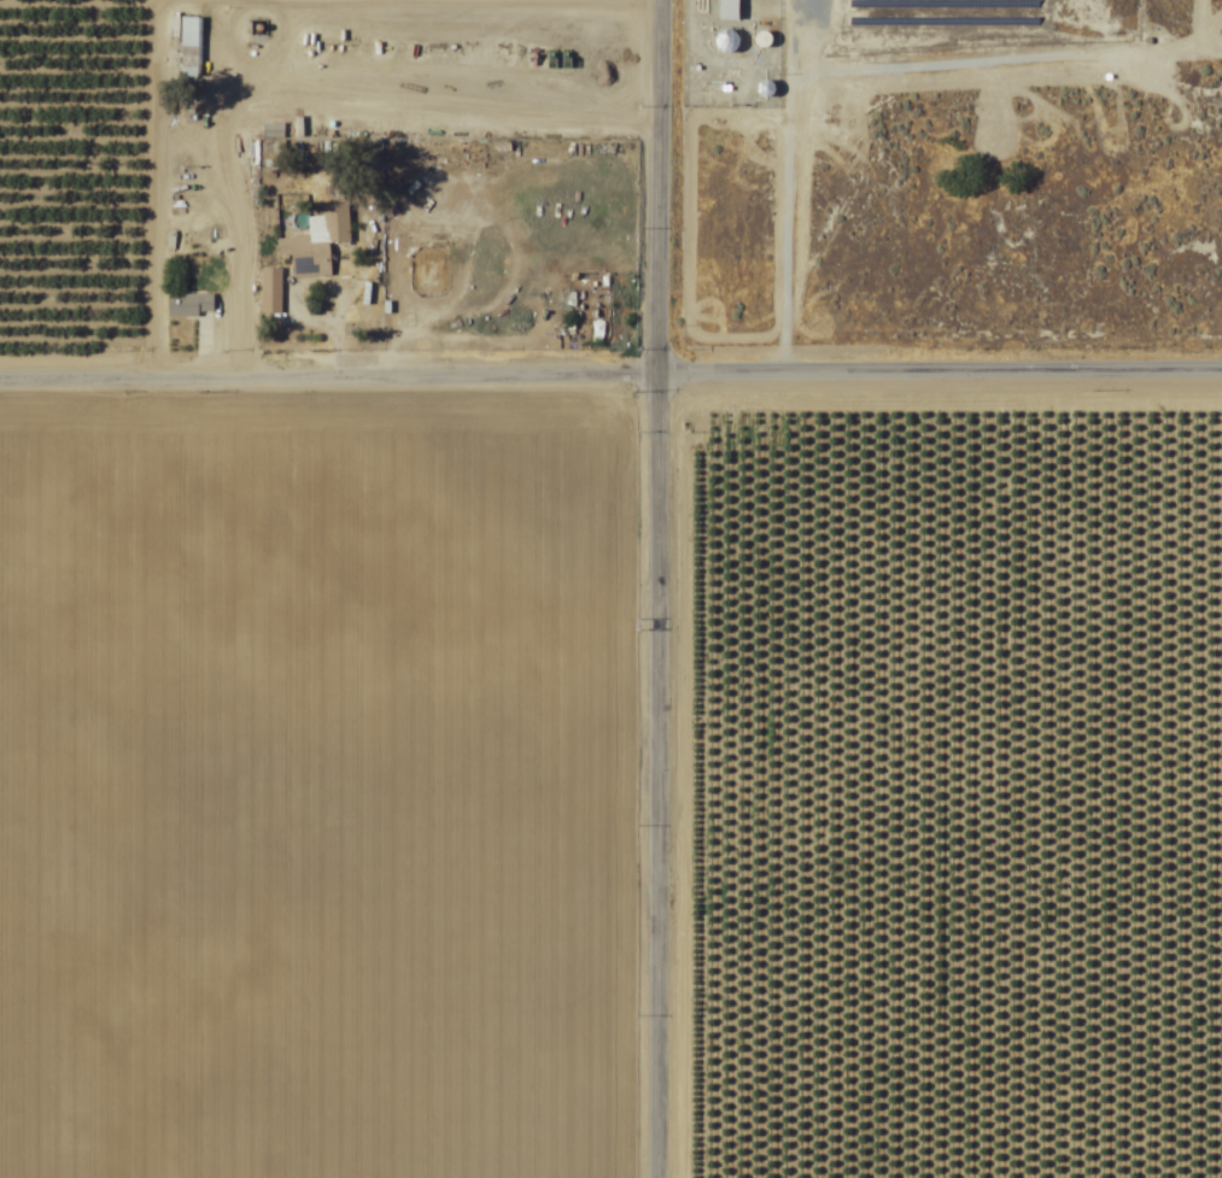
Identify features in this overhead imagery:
building: (727, 10)
building: (726, 41)
building: (187, 47)
building: (317, 242)
building: (269, 292)
building: (187, 306)
road: (338, 315)
road: (610, 371)
road: (660, 588)

